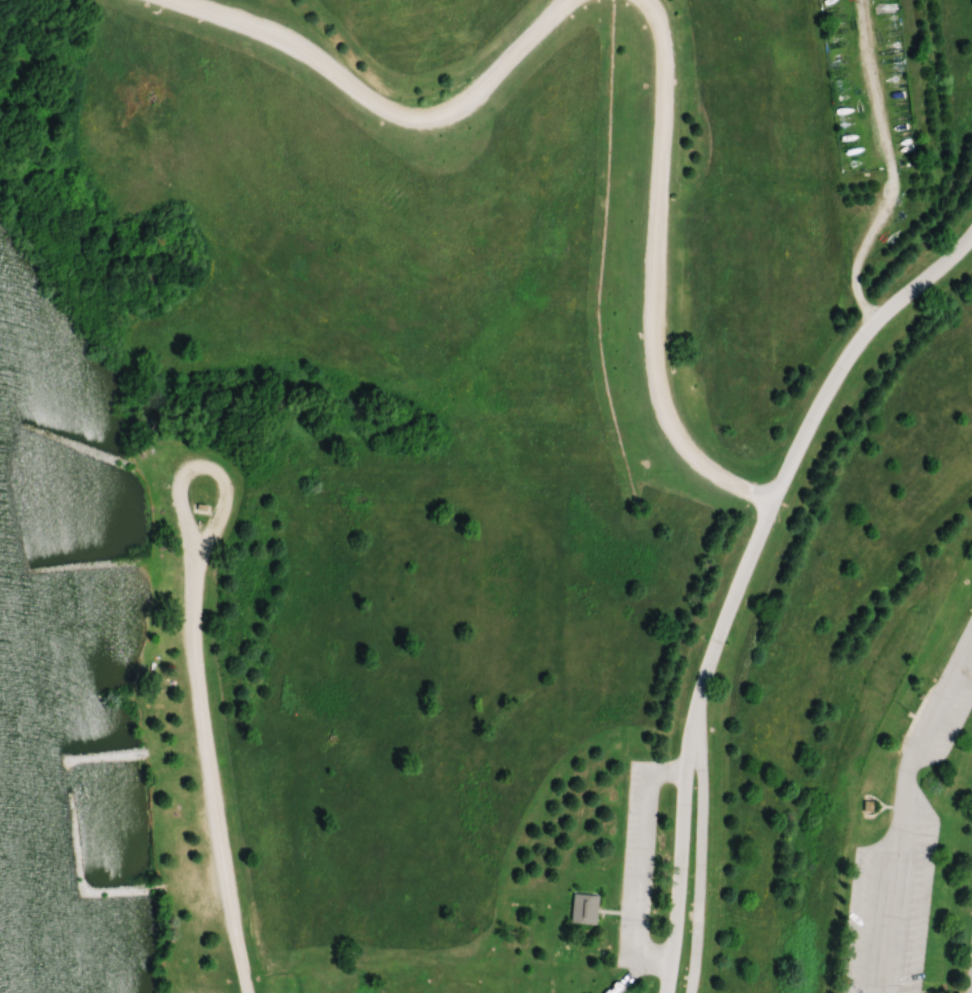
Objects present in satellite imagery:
road: (380, 106)
road: (885, 165)
road: (656, 274)
park: (486, 496)
road: (739, 577)
road: (900, 805)
road: (698, 847)
parking lot: (903, 851)
road: (643, 861)
parking lot: (635, 876)
building: (584, 909)
parking lot: (968, 965)
road: (971, 990)

